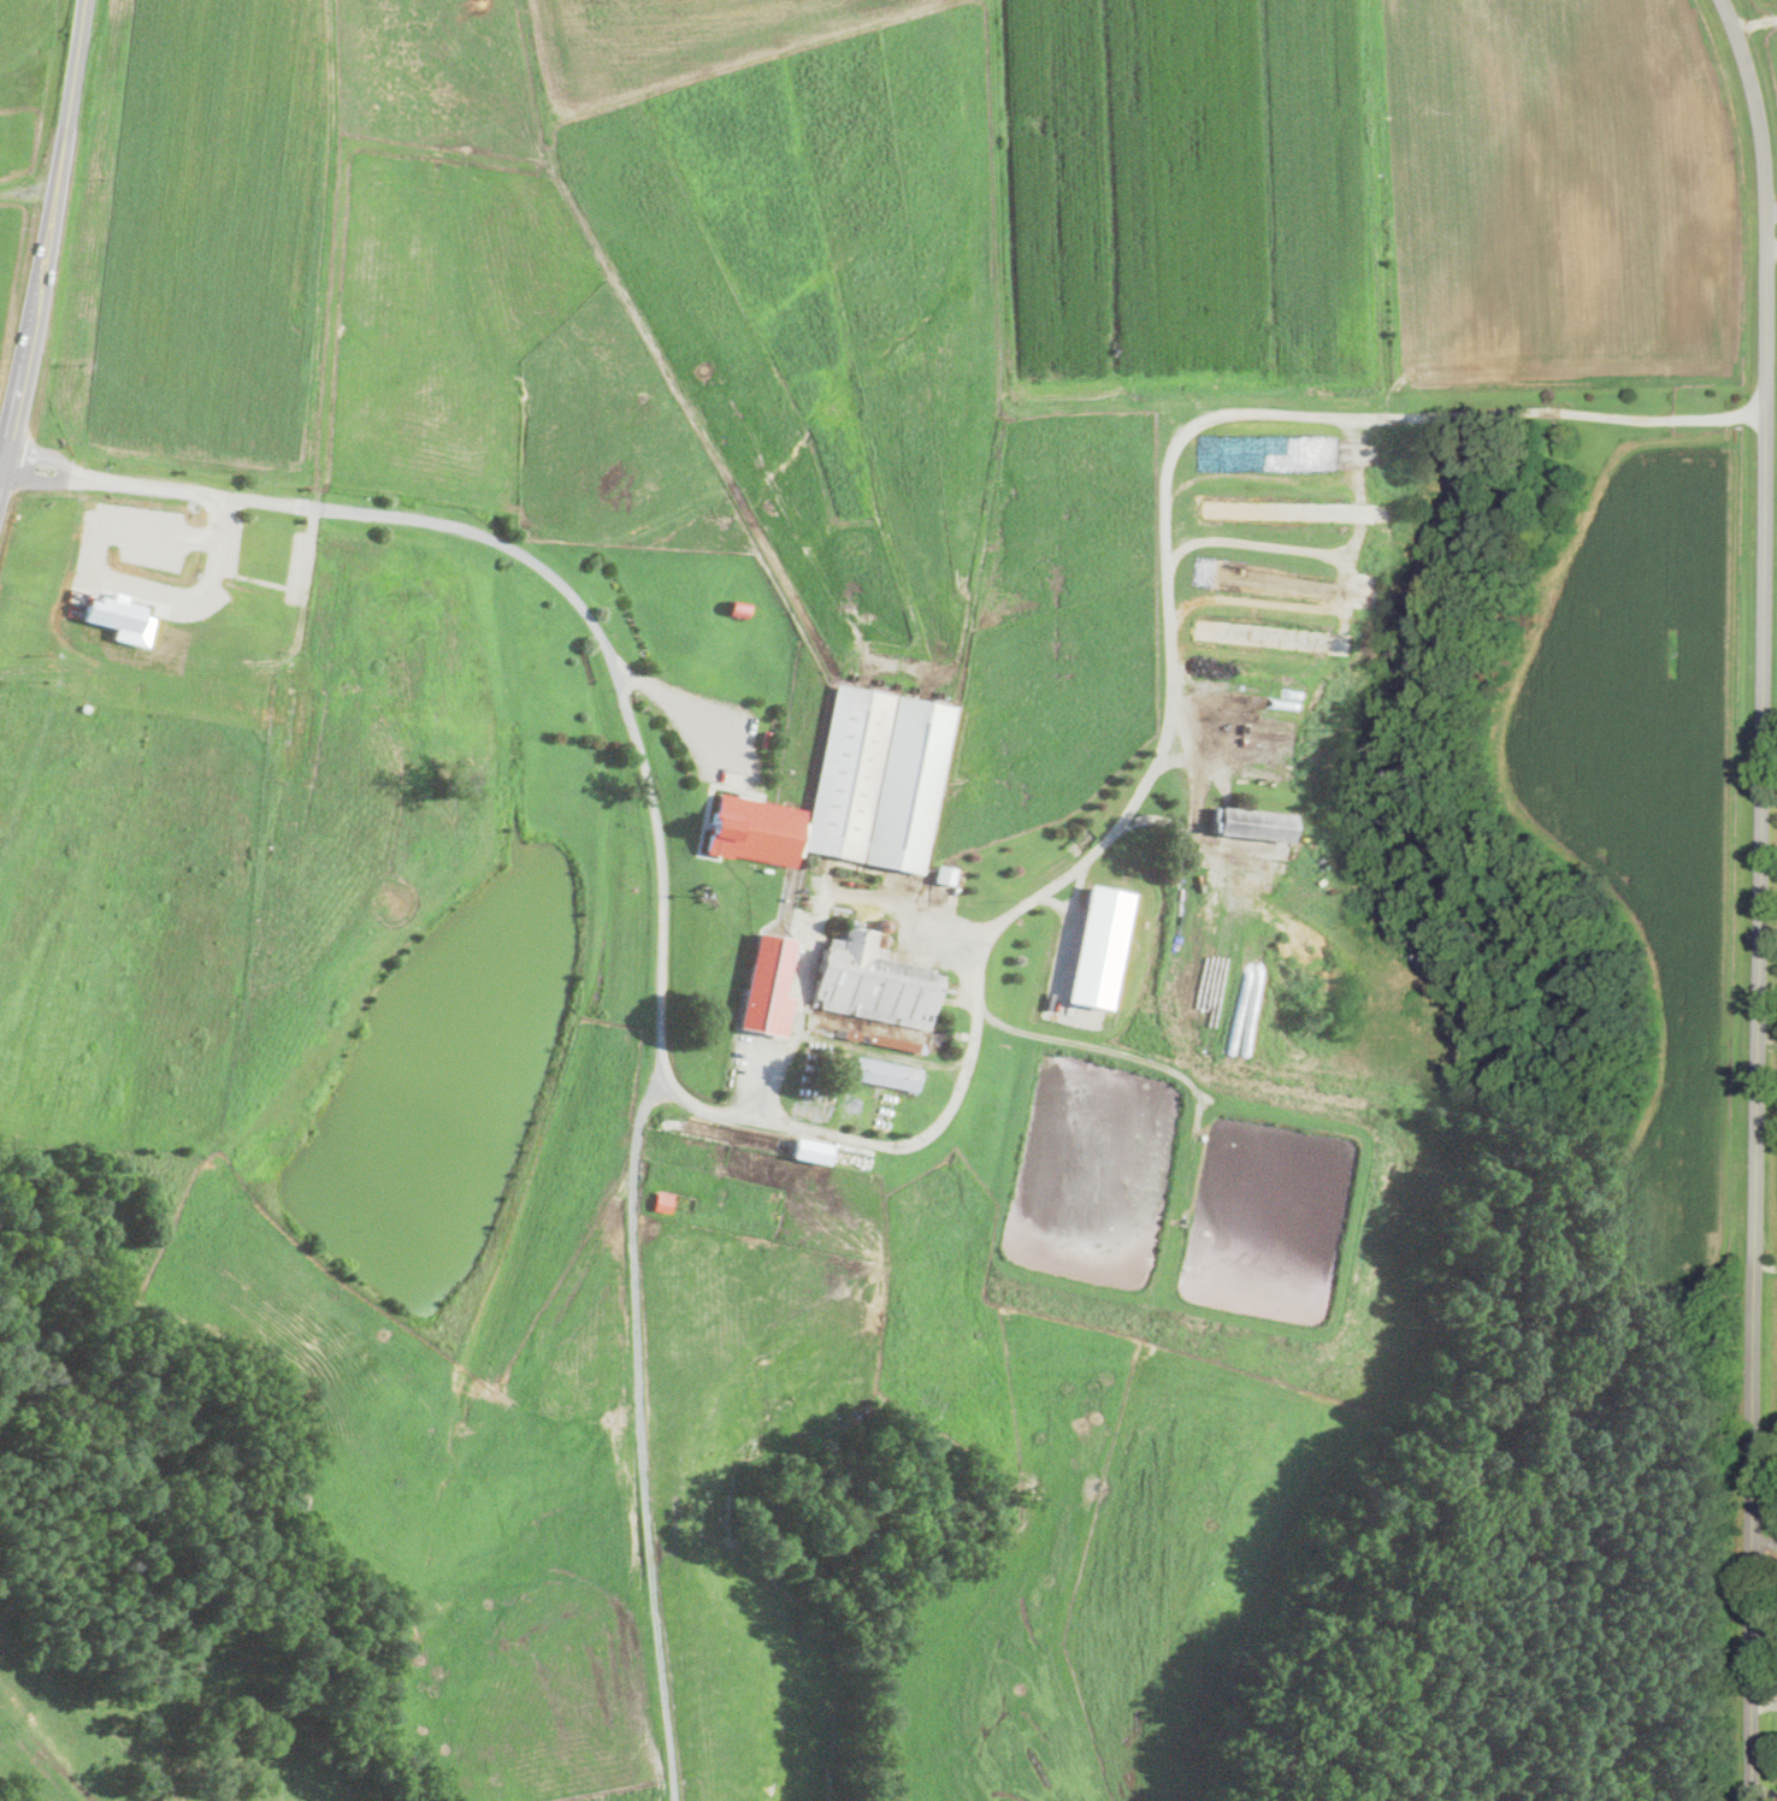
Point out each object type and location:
road: (28, 191)
road: (1772, 209)
road: (47, 241)
road: (1772, 244)
road: (7, 401)
road: (1, 467)
road: (106, 585)
building: (739, 606)
building: (119, 615)
road: (667, 695)
road: (1770, 749)
building: (909, 784)
building: (817, 791)
building: (1254, 823)
building: (945, 874)
road: (1760, 897)
crop: (868, 898)
building: (849, 919)
building: (854, 920)
building: (858, 921)
building: (863, 922)
road: (816, 925)
building: (882, 925)
building: (880, 939)
building: (1098, 946)
building: (872, 981)
building: (767, 984)
building: (867, 1037)
road: (1767, 1037)
road: (1090, 1044)
building: (886, 1073)
road: (931, 1133)
road: (637, 1139)
building: (813, 1150)
building: (663, 1199)
road: (1766, 1264)
road: (1765, 1640)

